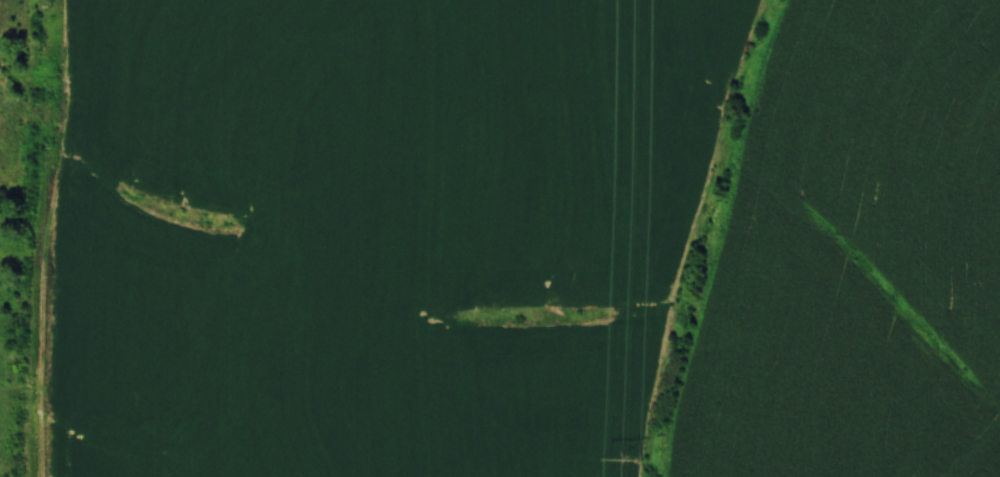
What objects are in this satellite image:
power tower: (636, 461)

